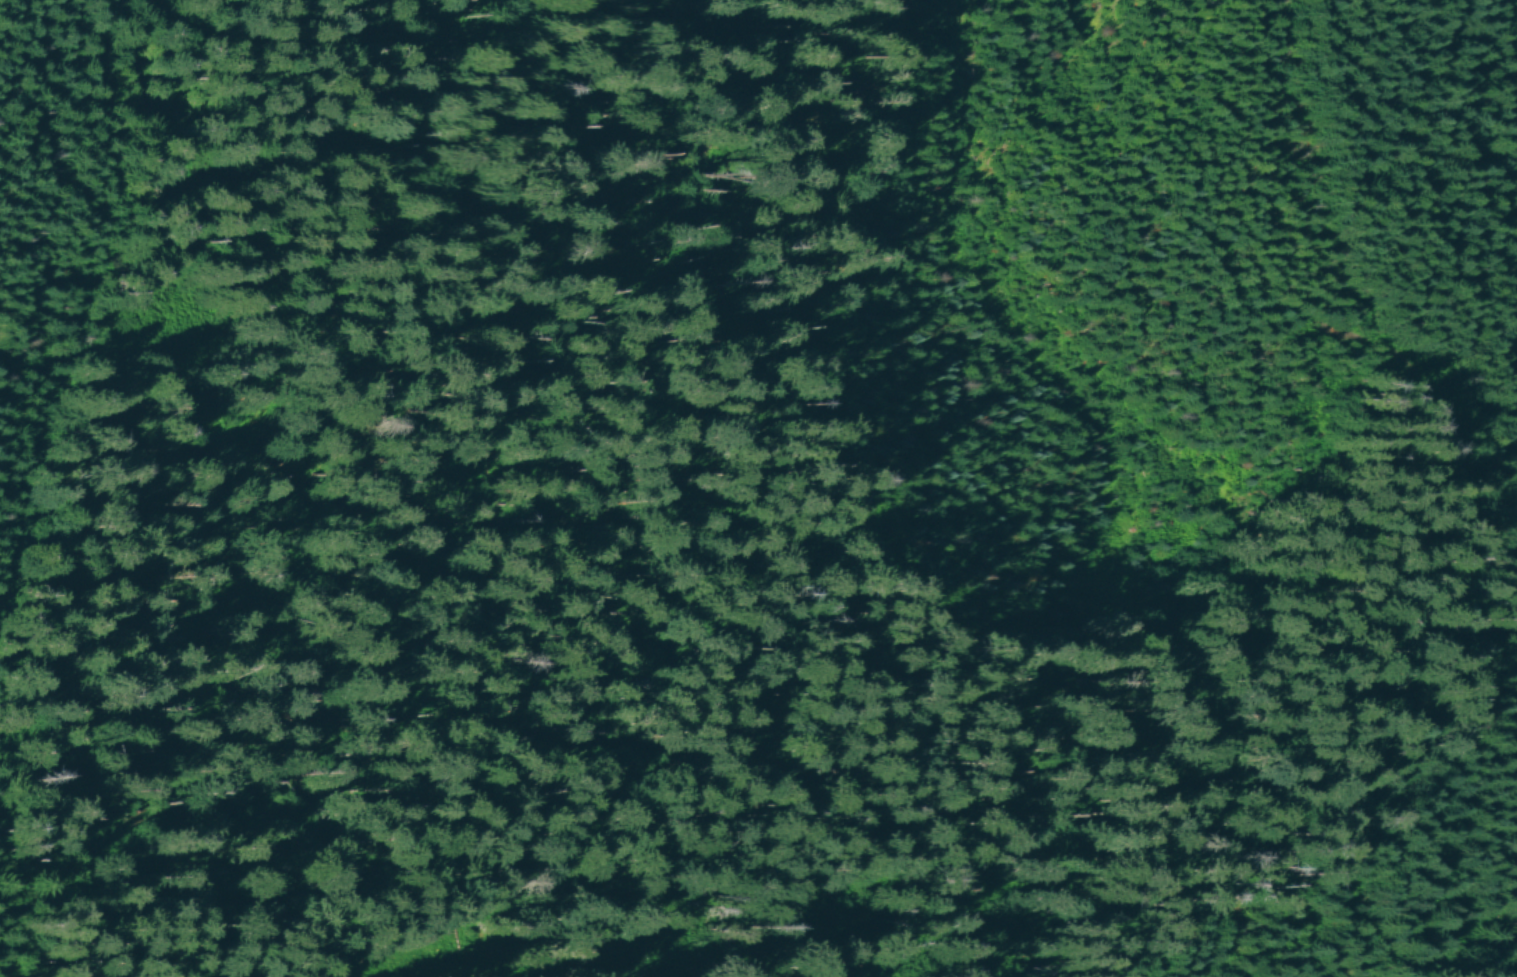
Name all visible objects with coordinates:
road: (1315, 898)

